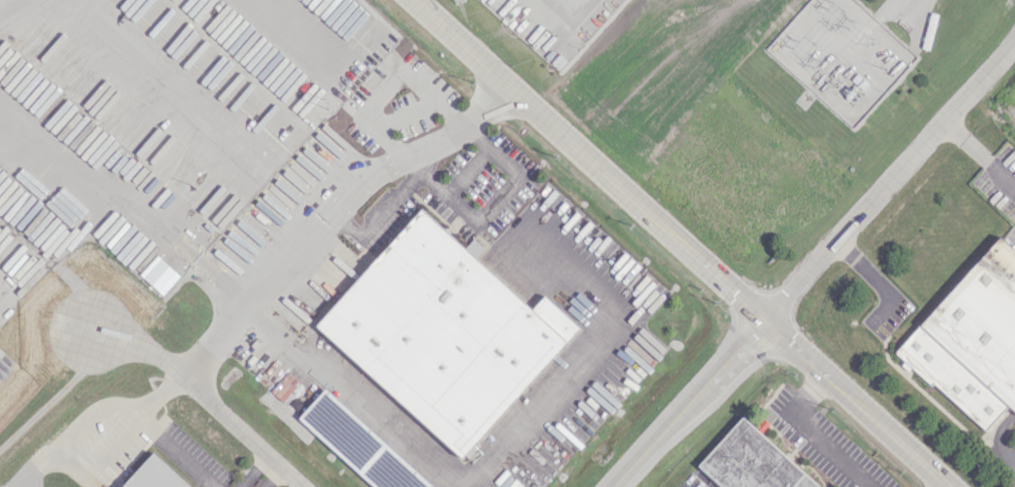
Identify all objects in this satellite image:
road: (5, 2)
road: (913, 5)
road: (573, 23)
road: (309, 35)
power substation: (839, 55)
road: (392, 81)
road: (159, 82)
power tower: (327, 103)
road: (978, 153)
road: (588, 159)
road: (888, 180)
road: (127, 201)
road: (495, 208)
road: (332, 213)
road: (383, 217)
building: (473, 247)
road: (865, 269)
building: (443, 332)
building: (972, 338)
road: (591, 354)
road: (205, 397)
road: (355, 399)
road: (686, 403)
road: (853, 403)
road: (95, 416)
road: (810, 433)
building: (359, 445)
road: (178, 449)
road: (1007, 456)
building: (750, 461)
road: (263, 473)
building: (768, 486)

